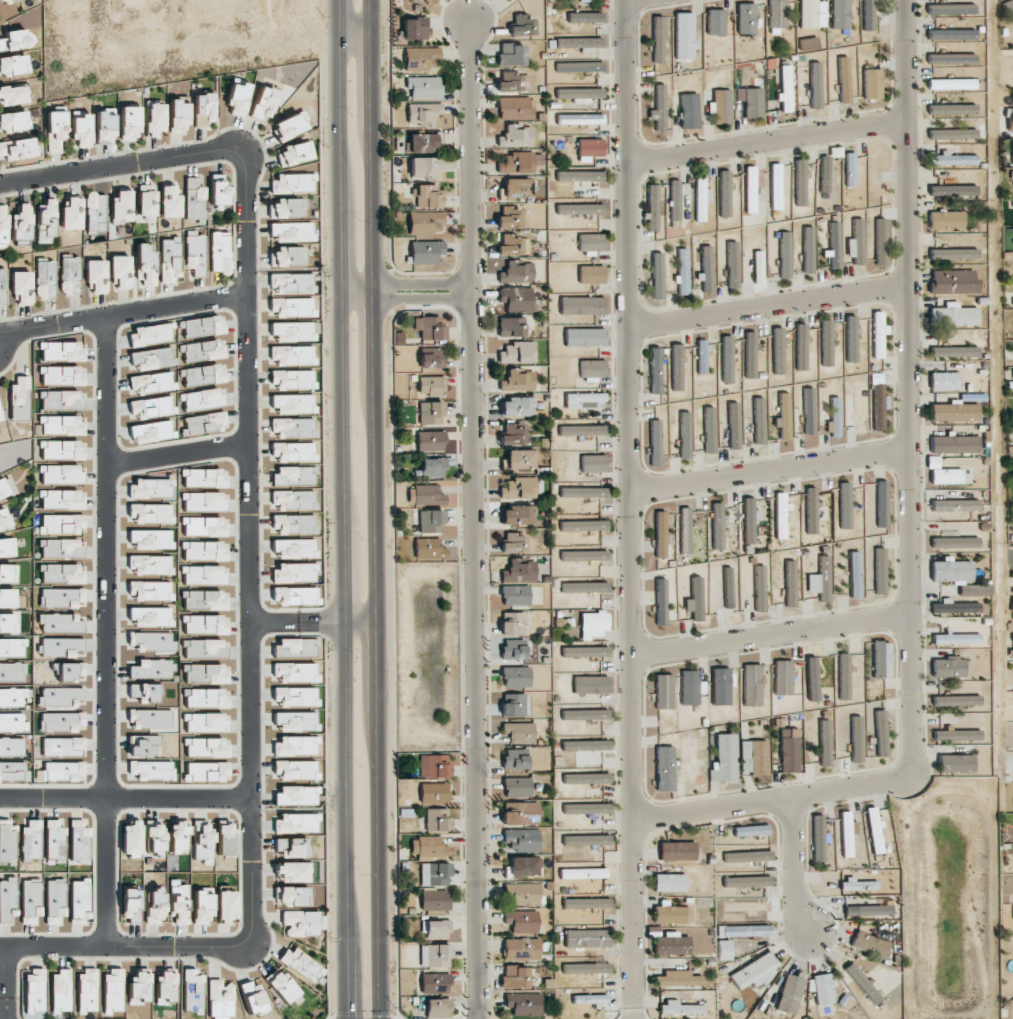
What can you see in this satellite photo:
building: (509, 0)
building: (4, 1)
building: (951, 9)
building: (1008, 9)
building: (778, 14)
building: (812, 14)
building: (840, 14)
building: (868, 15)
building: (585, 17)
building: (746, 18)
building: (715, 22)
building: (521, 25)
building: (414, 28)
building: (950, 34)
building: (685, 36)
building: (658, 39)
building: (17, 40)
building: (579, 42)
building: (808, 43)
building: (512, 55)
building: (420, 58)
building: (951, 59)
building: (14, 65)
building: (579, 67)
building: (844, 80)
building: (508, 82)
building: (872, 83)
building: (951, 84)
building: (815, 85)
building: (423, 87)
building: (785, 88)
building: (13, 94)
building: (580, 94)
building: (238, 98)
building: (264, 103)
building: (753, 103)
building: (722, 107)
building: (515, 108)
building: (659, 108)
building: (204, 109)
building: (951, 109)
building: (689, 111)
building: (423, 113)
building: (178, 116)
building: (580, 119)
building: (155, 120)
building: (13, 121)
building: (1011, 121)
building: (129, 123)
building: (290, 125)
building: (104, 126)
building: (55, 130)
building: (81, 130)
building: (952, 134)
building: (516, 136)
road: (767, 141)
building: (421, 143)
building: (590, 147)
building: (17, 149)
building: (295, 153)
building: (951, 159)
building: (519, 162)
building: (425, 168)
building: (824, 174)
building: (580, 176)
building: (293, 182)
building: (800, 183)
building: (775, 186)
building: (515, 188)
building: (750, 189)
building: (219, 193)
building: (725, 193)
building: (428, 196)
building: (701, 198)
building: (194, 199)
building: (147, 200)
building: (170, 202)
building: (675, 203)
building: (121, 206)
building: (579, 207)
building: (287, 208)
building: (653, 208)
building: (95, 211)
building: (72, 214)
building: (509, 217)
building: (146, 218)
building: (946, 220)
building: (426, 223)
building: (21, 224)
building: (3, 225)
building: (292, 232)
building: (881, 241)
building: (591, 242)
building: (856, 243)
building: (512, 245)
building: (834, 245)
building: (808, 250)
building: (220, 252)
building: (426, 252)
building: (195, 253)
building: (953, 254)
building: (785, 255)
building: (287, 256)
building: (170, 259)
building: (145, 264)
building: (732, 265)
building: (758, 267)
building: (706, 269)
building: (121, 271)
building: (683, 271)
building: (517, 272)
building: (591, 274)
building: (71, 275)
building: (96, 275)
building: (657, 275)
building: (46, 278)
building: (953, 281)
building: (291, 283)
road: (405, 283)
building: (22, 287)
road: (405, 298)
building: (516, 299)
building: (582, 305)
building: (291, 307)
road: (769, 307)
road: (122, 313)
building: (953, 315)
building: (201, 326)
building: (430, 327)
building: (511, 327)
building: (292, 331)
building: (878, 334)
building: (149, 335)
building: (585, 337)
building: (851, 339)
building: (826, 343)
building: (801, 347)
building: (60, 351)
building: (201, 351)
building: (778, 351)
building: (954, 351)
building: (517, 352)
building: (291, 355)
building: (750, 355)
building: (702, 356)
building: (152, 358)
building: (432, 358)
building: (727, 359)
building: (676, 367)
building: (593, 368)
building: (655, 370)
building: (202, 375)
building: (60, 376)
building: (291, 379)
building: (518, 380)
building: (944, 380)
building: (150, 383)
building: (431, 385)
building: (20, 399)
building: (201, 399)
building: (61, 400)
building: (584, 400)
building: (293, 403)
building: (150, 407)
building: (516, 407)
building: (878, 408)
building: (809, 411)
building: (954, 412)
building: (431, 413)
building: (861, 413)
building: (784, 415)
building: (0, 418)
building: (834, 418)
building: (759, 420)
building: (203, 423)
building: (60, 425)
building: (734, 426)
building: (292, 427)
building: (582, 430)
building: (709, 430)
building: (151, 432)
building: (511, 435)
building: (684, 435)
building: (430, 441)
building: (655, 443)
building: (954, 444)
building: (61, 449)
building: (292, 452)
road: (176, 460)
building: (519, 460)
building: (594, 463)
road: (772, 472)
building: (61, 474)
building: (293, 476)
building: (946, 476)
building: (203, 477)
building: (6, 487)
building: (151, 488)
building: (521, 488)
building: (583, 492)
building: (427, 494)
building: (60, 499)
building: (292, 500)
building: (203, 501)
building: (882, 504)
building: (845, 505)
building: (955, 505)
road: (340, 509)
road: (380, 509)
road: (632, 509)
building: (811, 510)
building: (150, 513)
building: (517, 515)
building: (781, 516)
building: (4, 519)
road: (474, 520)
building: (750, 520)
building: (431, 521)
building: (62, 524)
building: (292, 524)
building: (583, 525)
building: (203, 526)
building: (717, 526)
road: (912, 529)
building: (685, 531)
building: (660, 534)
building: (151, 539)
building: (955, 542)
building: (513, 543)
road: (246, 546)
building: (7, 548)
building: (61, 548)
building: (294, 548)
building: (429, 549)
building: (204, 551)
building: (584, 555)
building: (151, 565)
building: (879, 571)
building: (951, 571)
building: (519, 572)
building: (8, 573)
building: (60, 573)
building: (294, 573)
building: (854, 574)
building: (204, 575)
building: (820, 580)
building: (790, 584)
building: (585, 587)
building: (760, 588)
building: (151, 590)
building: (974, 590)
building: (294, 596)
building: (515, 596)
building: (8, 597)
building: (61, 597)
building: (695, 599)
building: (204, 600)
building: (661, 601)
building: (955, 607)
building: (151, 617)
building: (8, 623)
building: (60, 623)
building: (512, 623)
building: (204, 624)
road: (362, 624)
building: (593, 624)
road: (295, 625)
road: (108, 631)
road: (774, 636)
building: (956, 639)
building: (151, 641)
building: (60, 646)
building: (12, 647)
building: (295, 647)
building: (204, 648)
building: (512, 650)
building: (585, 651)
building: (881, 660)
building: (951, 667)
building: (152, 668)
building: (12, 672)
building: (70, 672)
building: (294, 672)
building: (204, 673)
building: (516, 676)
building: (844, 676)
building: (783, 677)
building: (812, 679)
building: (591, 684)
building: (752, 685)
building: (721, 686)
building: (691, 687)
building: (664, 691)
building: (146, 692)
building: (61, 696)
building: (296, 696)
building: (12, 697)
building: (205, 698)
building: (956, 700)
building: (513, 705)
building: (585, 714)
building: (150, 719)
building: (296, 721)
building: (12, 722)
building: (62, 722)
building: (205, 722)
building: (519, 732)
building: (880, 733)
building: (958, 734)
building: (856, 739)
building: (825, 743)
building: (144, 745)
building: (585, 745)
building: (296, 746)
building: (11, 747)
building: (62, 747)
building: (205, 747)
building: (790, 752)
building: (754, 757)
building: (515, 759)
building: (724, 759)
building: (955, 763)
building: (433, 766)
building: (664, 768)
building: (150, 770)
building: (295, 770)
building: (13, 771)
building: (63, 771)
building: (206, 771)
building: (586, 778)
building: (516, 787)
building: (433, 793)
building: (296, 795)
road: (125, 800)
building: (586, 808)
building: (520, 813)
building: (437, 819)
building: (297, 823)
building: (751, 830)
building: (875, 831)
building: (847, 833)
building: (178, 837)
building: (225, 837)
building: (131, 838)
building: (818, 838)
building: (31, 839)
building: (55, 839)
building: (79, 839)
building: (155, 839)
building: (520, 840)
building: (586, 840)
building: (7, 841)
building: (202, 841)
building: (292, 847)
building: (429, 847)
building: (676, 851)
building: (747, 856)
building: (525, 866)
road: (794, 866)
building: (291, 872)
building: (583, 873)
building: (434, 874)
building: (747, 881)
building: (670, 883)
building: (859, 885)
building: (521, 894)
building: (293, 896)
building: (8, 899)
building: (80, 899)
building: (31, 900)
building: (434, 900)
building: (55, 901)
building: (178, 902)
building: (587, 903)
building: (131, 904)
building: (155, 905)
building: (202, 905)
building: (226, 906)
building: (747, 906)
building: (868, 910)
building: (672, 915)
building: (521, 921)
building: (304, 922)
building: (436, 930)
building: (744, 931)
building: (587, 938)
building: (672, 944)
building: (870, 945)
road: (2, 947)
building: (521, 948)
building: (725, 950)
building: (435, 955)
building: (302, 965)
building: (586, 968)
building: (754, 971)
building: (515, 976)
building: (677, 979)
road: (5, 983)
building: (435, 983)
building: (862, 983)
building: (138, 986)
building: (282, 986)
building: (164, 988)
building: (822, 989)
building: (86, 990)
building: (112, 990)
building: (60, 991)
building: (193, 991)
building: (790, 993)
building: (33, 994)
building: (253, 997)
building: (220, 999)
building: (590, 999)
building: (523, 1004)
building: (437, 1008)
building: (679, 1008)

